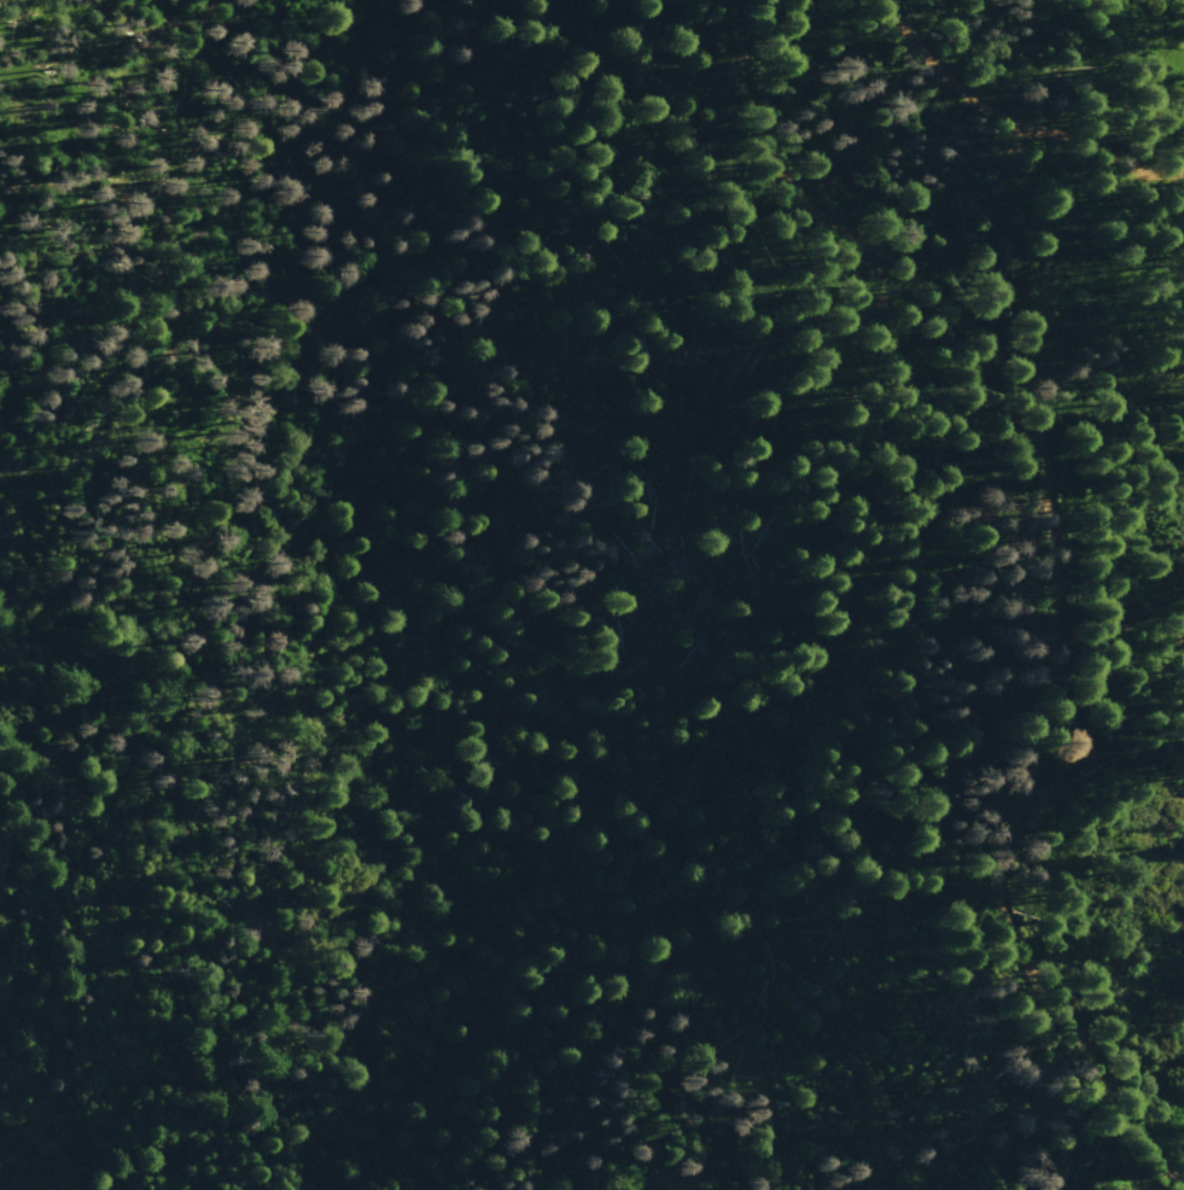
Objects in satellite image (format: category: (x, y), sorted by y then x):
road: (1009, 127)
road: (1058, 564)

